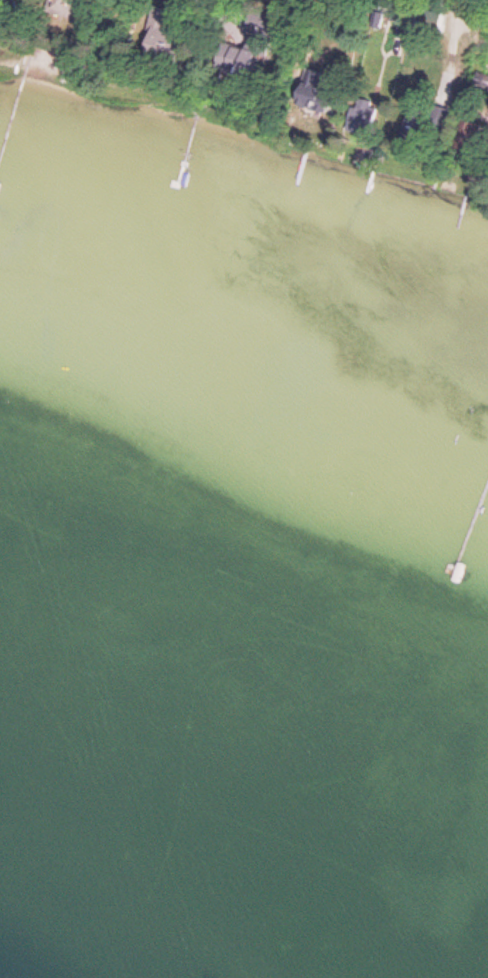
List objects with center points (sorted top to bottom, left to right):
building: (61, 8)
building: (159, 29)
building: (240, 61)
building: (310, 87)

